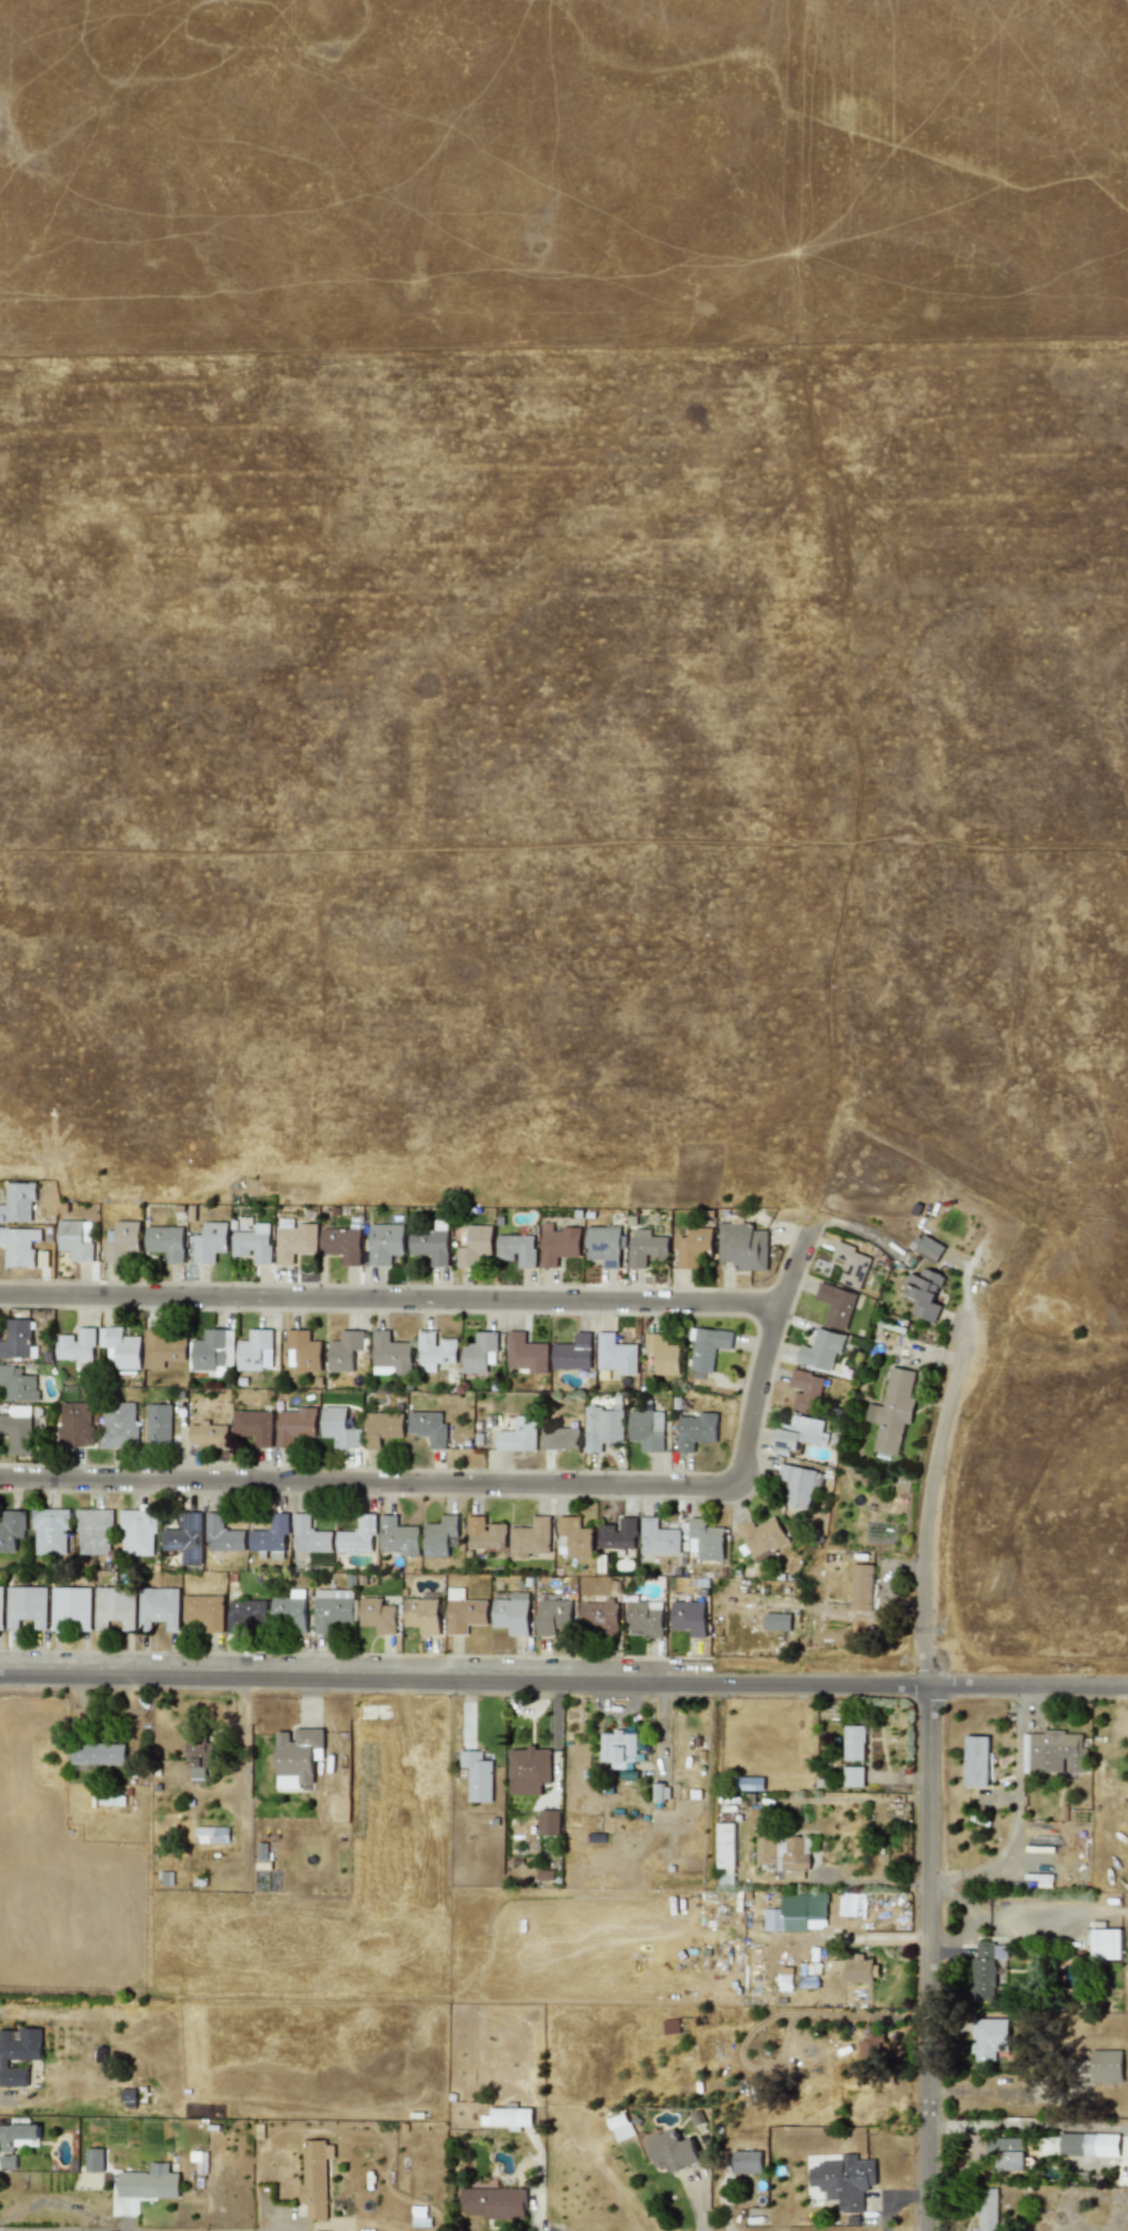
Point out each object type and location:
building: (17, 1202)
building: (76, 1239)
building: (293, 1241)
building: (121, 1242)
building: (166, 1242)
building: (209, 1242)
building: (383, 1243)
building: (430, 1243)
building: (253, 1244)
building: (341, 1244)
building: (558, 1244)
building: (475, 1245)
building: (603, 1245)
building: (19, 1246)
building: (741, 1246)
building: (693, 1247)
building: (926, 1247)
building: (646, 1248)
building: (516, 1249)
building: (851, 1265)
building: (921, 1293)
road: (388, 1299)
building: (836, 1305)
building: (18, 1339)
building: (78, 1347)
building: (120, 1347)
building: (161, 1348)
building: (707, 1348)
building: (345, 1349)
building: (821, 1349)
building: (254, 1351)
building: (302, 1351)
building: (435, 1351)
building: (213, 1352)
building: (480, 1352)
building: (526, 1353)
building: (572, 1353)
building: (616, 1354)
building: (662, 1354)
building: (390, 1355)
building: (18, 1384)
building: (805, 1391)
building: (892, 1410)
building: (77, 1424)
building: (158, 1424)
building: (119, 1425)
building: (293, 1425)
building: (253, 1426)
building: (337, 1427)
building: (381, 1427)
building: (428, 1427)
building: (602, 1427)
building: (18, 1430)
building: (647, 1430)
building: (695, 1431)
building: (799, 1434)
building: (208, 1435)
building: (519, 1435)
building: (560, 1438)
road: (498, 1484)
building: (799, 1484)
road: (929, 1507)
building: (11, 1530)
building: (50, 1532)
building: (93, 1532)
building: (137, 1532)
building: (485, 1534)
building: (618, 1534)
building: (222, 1535)
building: (269, 1535)
building: (309, 1535)
building: (357, 1536)
building: (398, 1536)
building: (440, 1536)
building: (761, 1536)
building: (184, 1537)
building: (530, 1537)
building: (573, 1537)
building: (658, 1538)
building: (705, 1540)
building: (861, 1587)
building: (1, 1606)
building: (26, 1606)
building: (114, 1607)
building: (158, 1607)
building: (70, 1608)
building: (332, 1610)
building: (203, 1611)
building: (290, 1611)
building: (463, 1612)
building: (244, 1613)
building: (511, 1614)
building: (377, 1615)
building: (421, 1615)
building: (552, 1616)
building: (600, 1616)
building: (645, 1617)
building: (688, 1617)
building: (776, 1621)
road: (563, 1683)
building: (854, 1743)
building: (617, 1750)
building: (1056, 1752)
building: (97, 1753)
building: (295, 1756)
building: (199, 1759)
building: (975, 1761)
building: (528, 1770)
building: (477, 1775)
building: (852, 1776)
road: (1017, 1782)
building: (660, 1792)
building: (548, 1822)
building: (210, 1835)
building: (261, 1852)
building: (726, 1853)
building: (783, 1855)
road: (958, 1878)
road: (872, 1882)
building: (800, 1914)
road: (1041, 1915)
road: (976, 1919)
building: (1105, 1944)
road: (929, 1958)
building: (984, 1968)
building: (852, 1970)
building: (670, 2025)
building: (988, 2038)
building: (870, 2043)
building: (18, 2053)
building: (1106, 2066)
building: (510, 2118)
road: (1024, 2124)
road: (1122, 2128)
building: (16, 2141)
building: (1088, 2144)
building: (671, 2151)
building: (1007, 2153)
building: (93, 2160)
building: (200, 2160)
building: (746, 2161)
building: (315, 2178)
building: (843, 2181)
building: (149, 2182)
building: (491, 2202)
building: (986, 2210)
road: (60, 2230)

